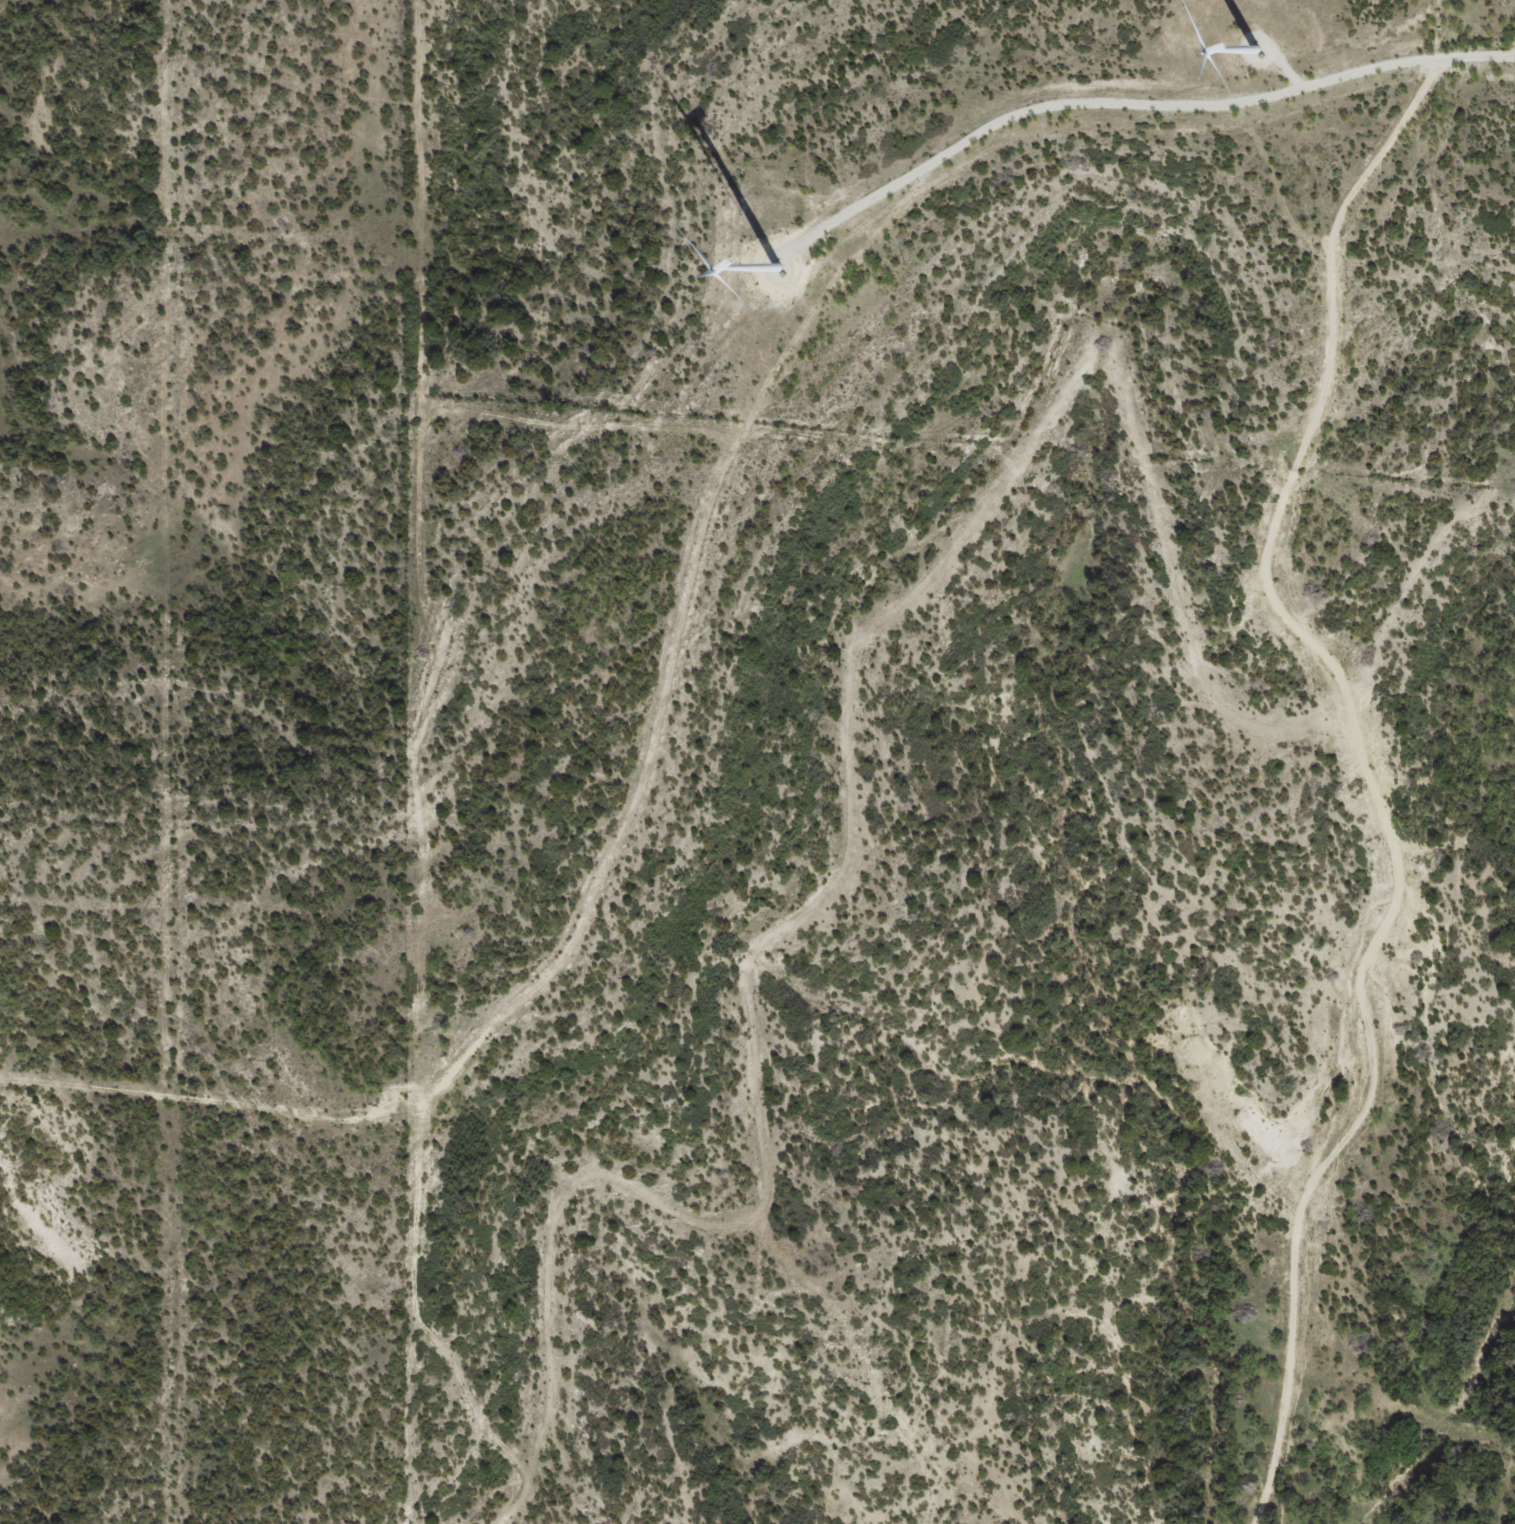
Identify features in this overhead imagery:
wind turbine: (1253, 50)
wind turbine: (776, 267)
road: (1374, 759)

